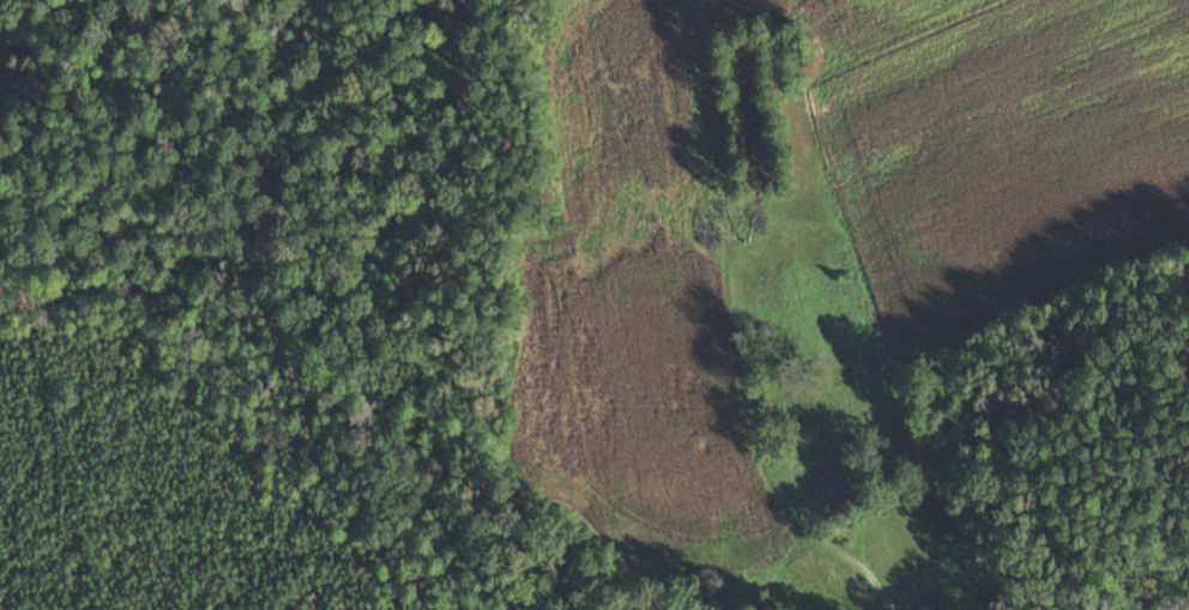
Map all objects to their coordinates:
building: (923, 452)
building: (831, 487)
building: (940, 512)
road: (870, 572)

